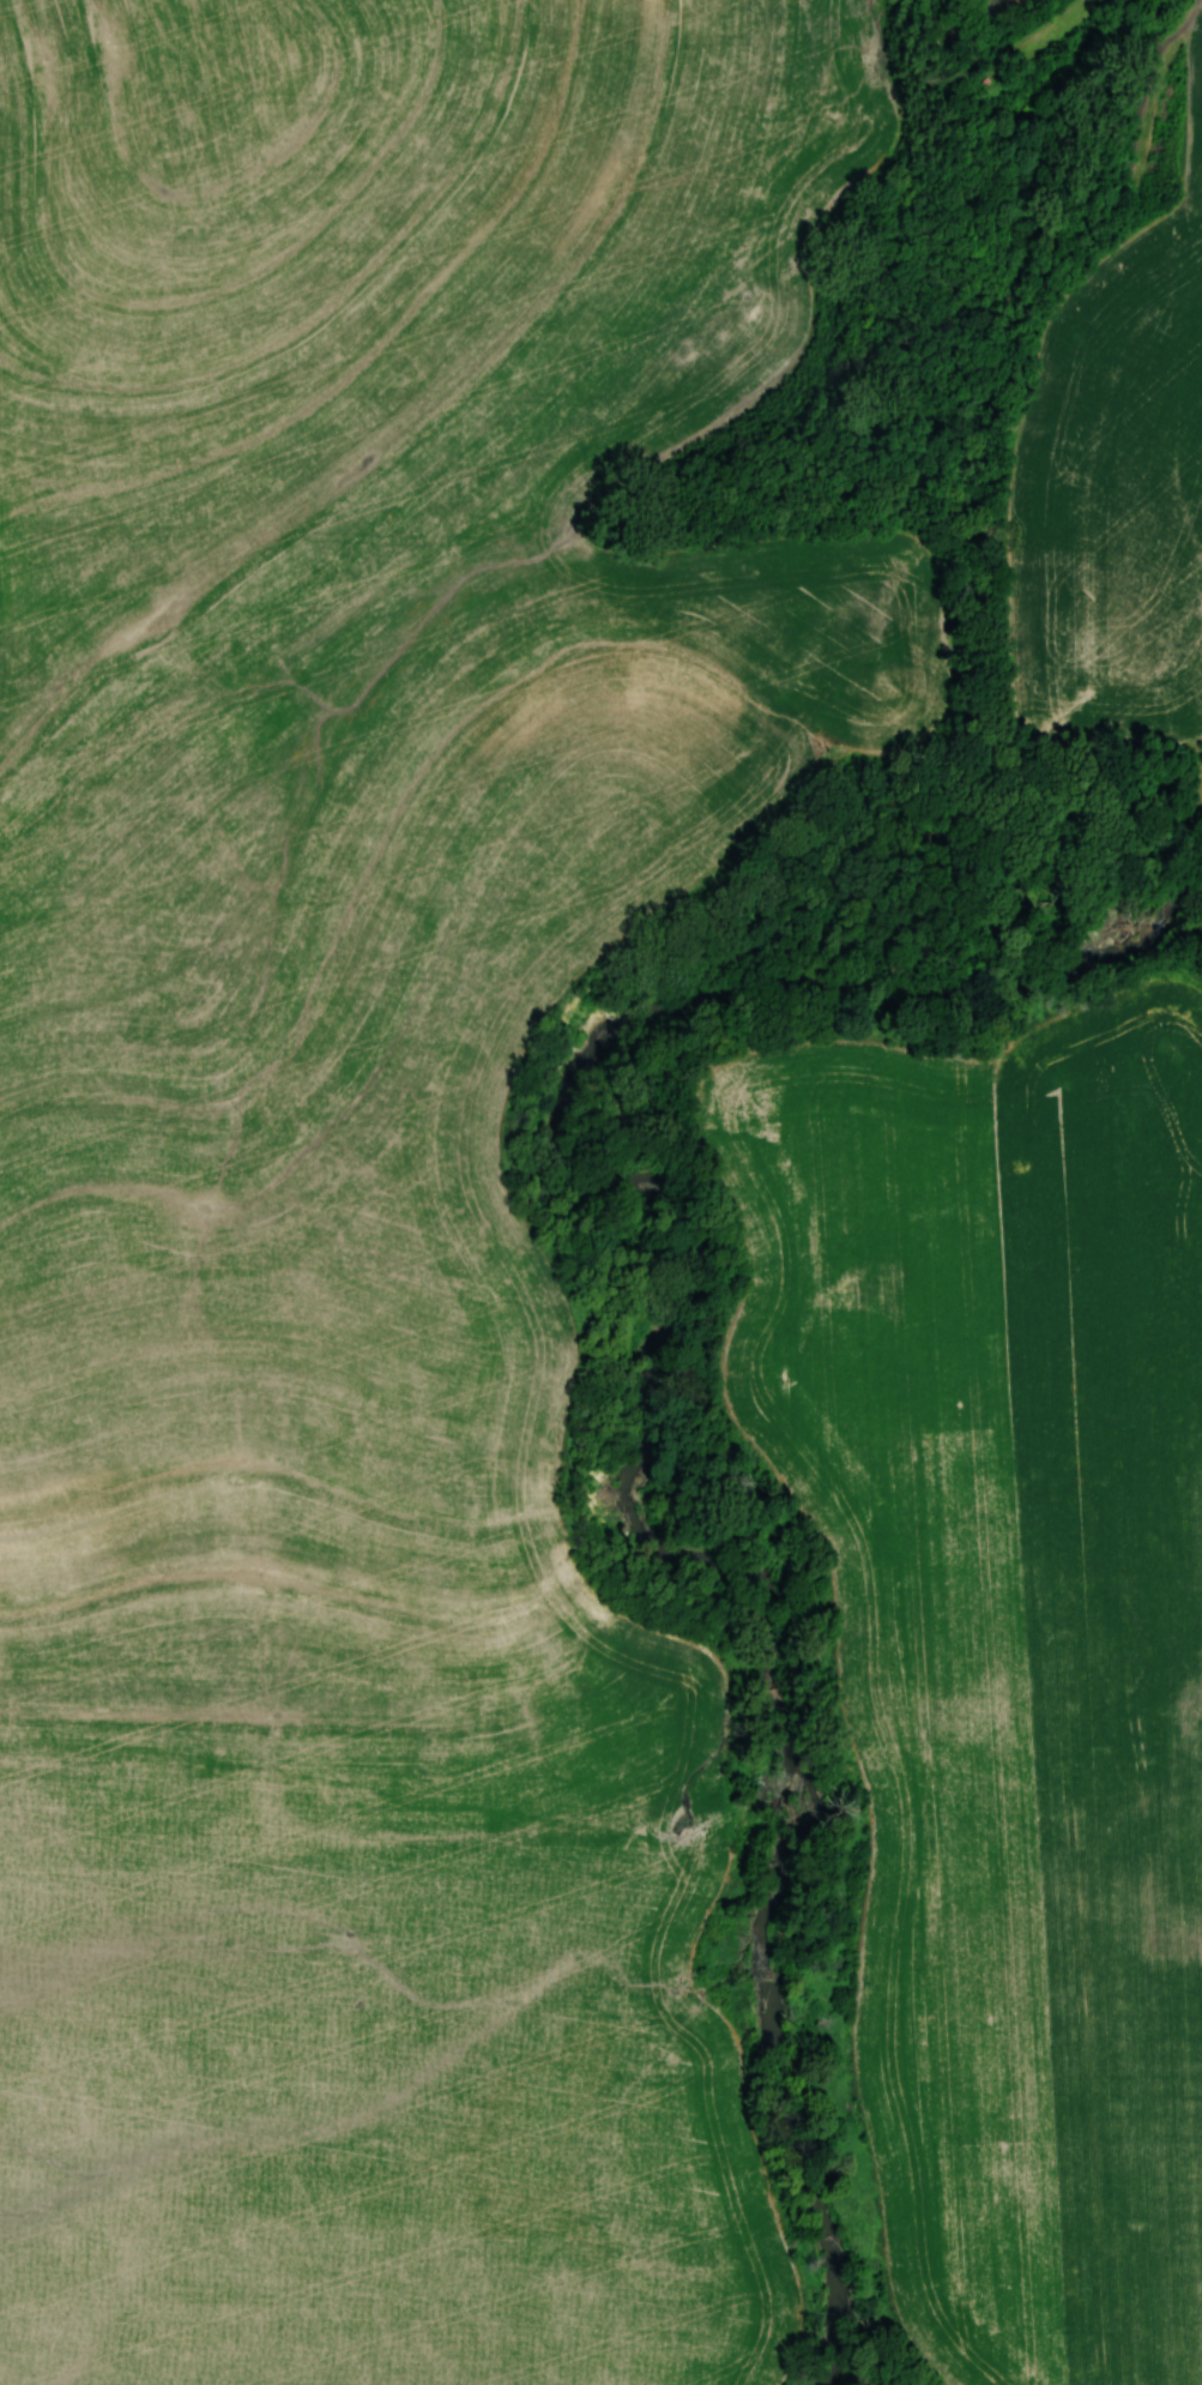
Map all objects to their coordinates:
river: (651, 1384)

